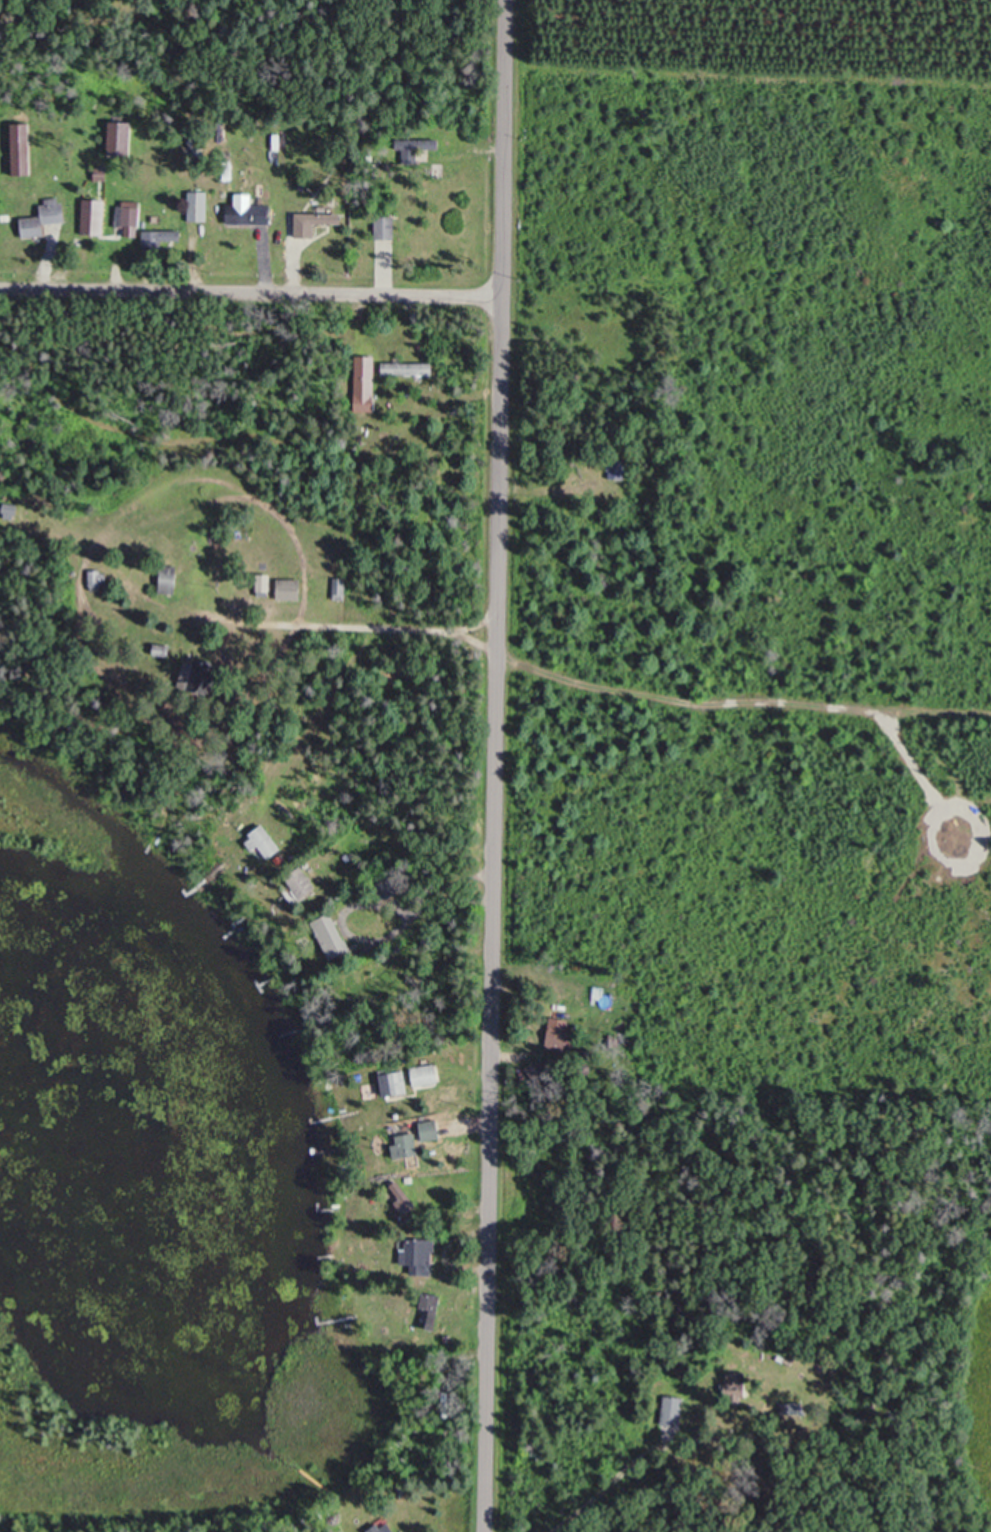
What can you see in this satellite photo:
building: (200, 205)
building: (130, 215)
building: (95, 216)
building: (46, 218)
building: (265, 218)
building: (317, 222)
building: (164, 236)
road: (251, 290)
building: (410, 368)
building: (367, 383)
building: (617, 468)
building: (101, 578)
building: (171, 579)
building: (292, 589)
building: (342, 589)
road: (362, 626)
building: (165, 650)
building: (210, 673)
road: (496, 766)
building: (270, 841)
building: (561, 1025)
building: (429, 1076)
building: (399, 1084)
building: (674, 1412)
road: (640, 1458)
building: (382, 1528)

